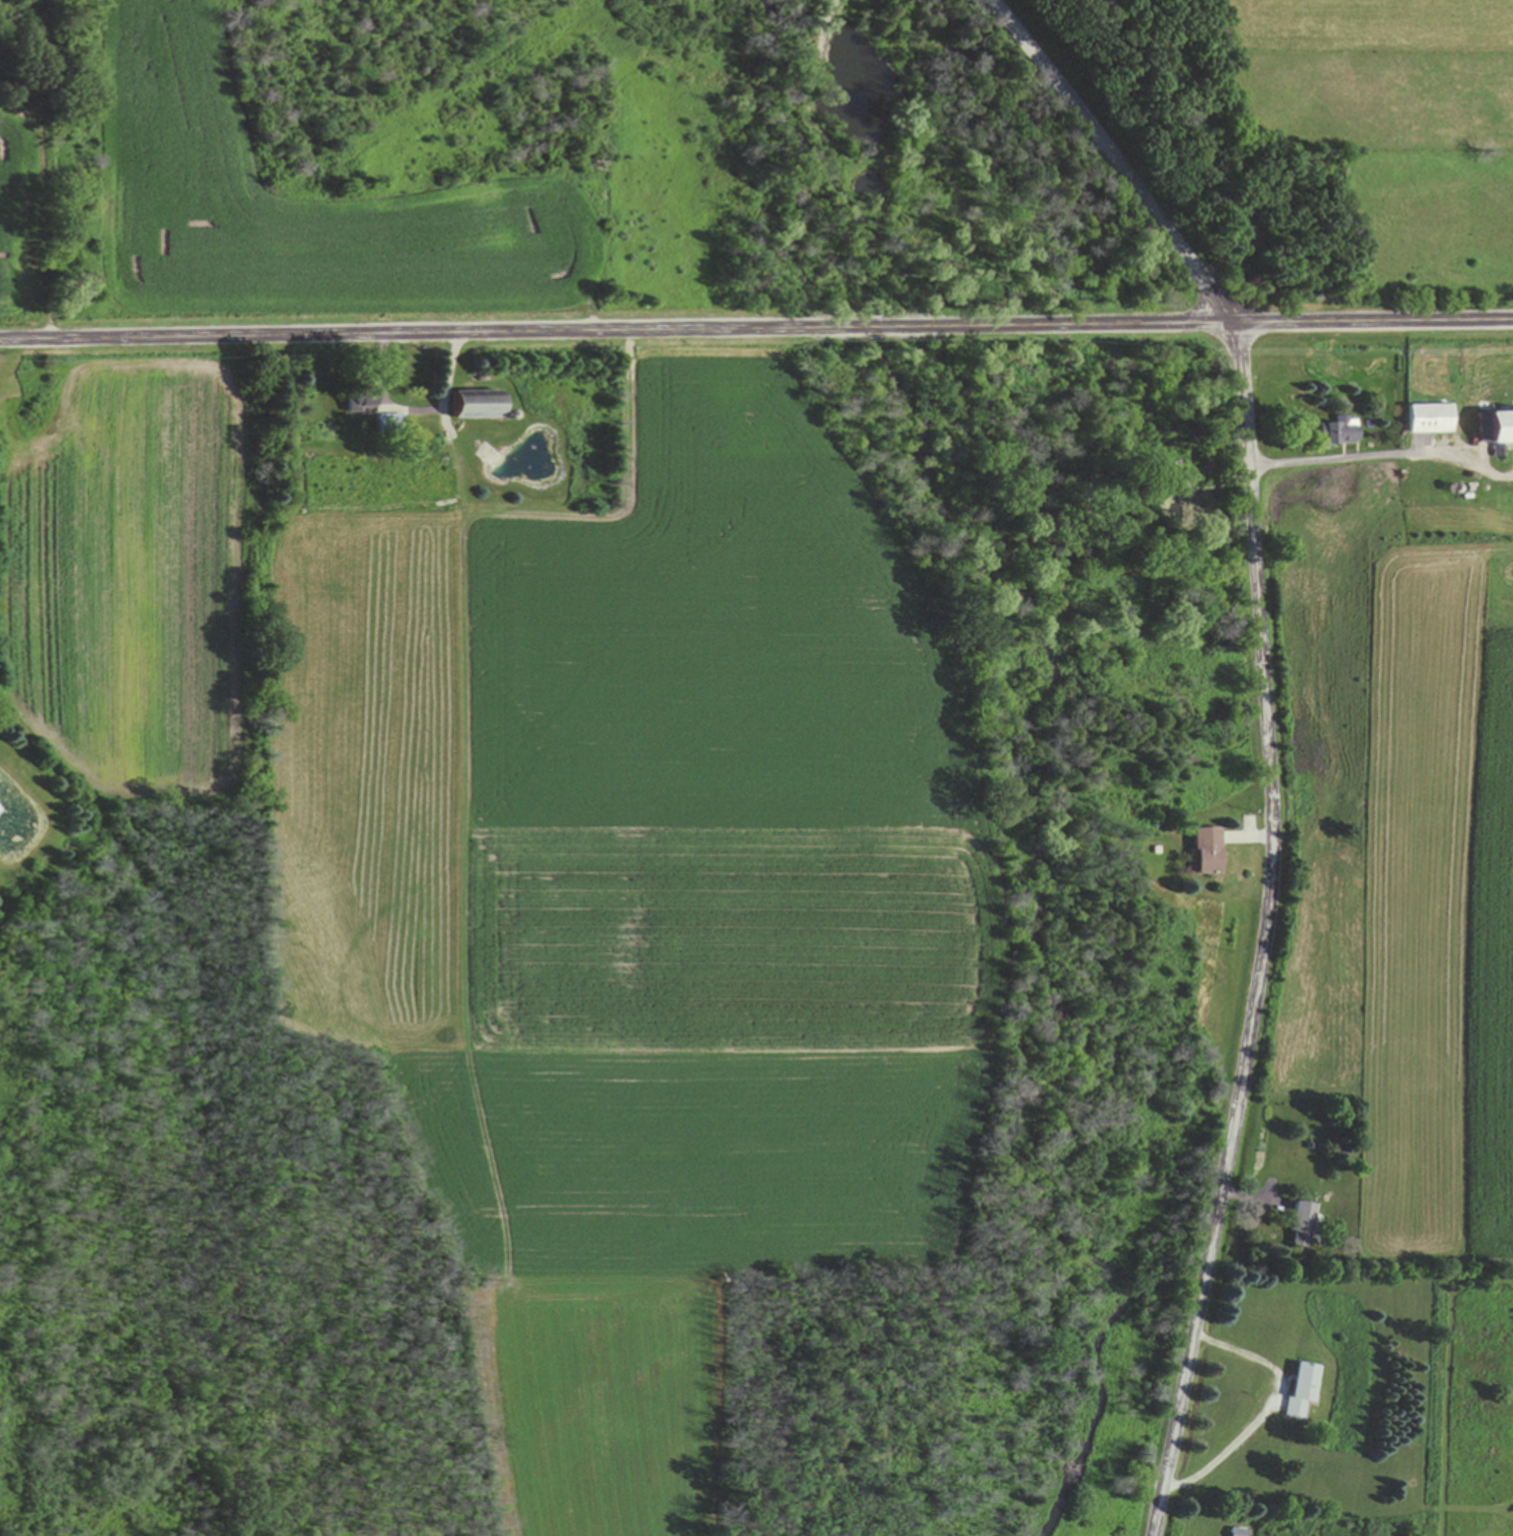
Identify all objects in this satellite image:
road: (756, 330)
building: (360, 400)
building: (473, 405)
building: (1430, 420)
building: (390, 424)
building: (1499, 429)
building: (427, 430)
building: (1338, 432)
road: (57, 608)
road: (1268, 732)
building: (1206, 851)
building: (1305, 1226)
building: (1305, 1391)
building: (1240, 1532)

